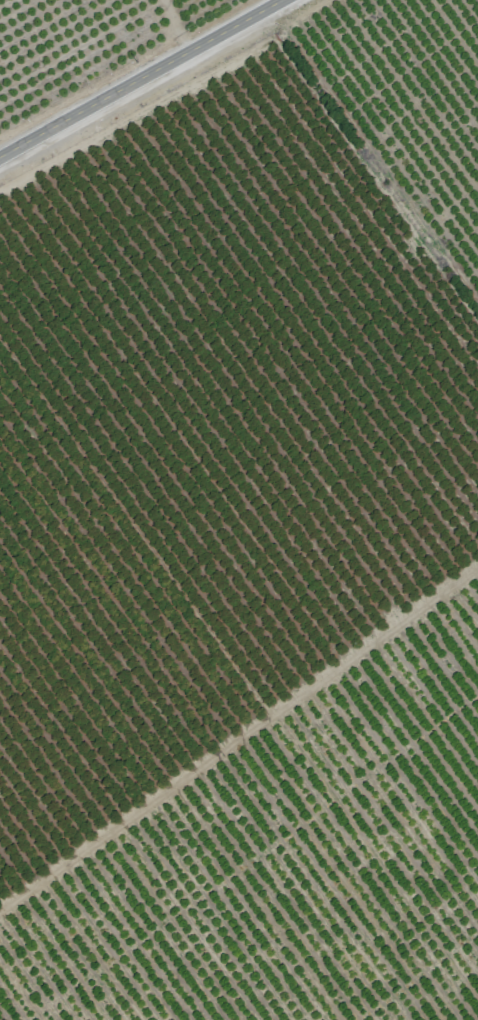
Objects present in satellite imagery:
road: (139, 77)

